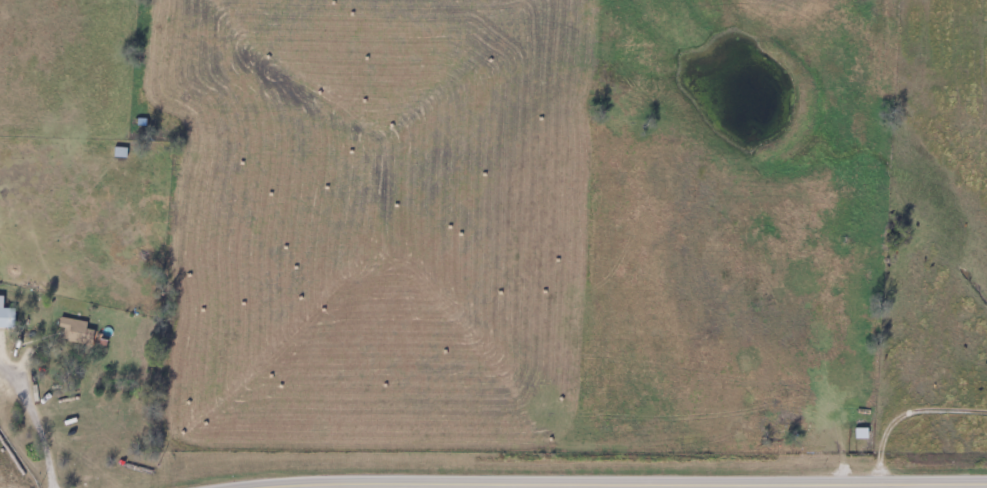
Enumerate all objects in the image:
building: (118, 151)
building: (5, 317)
building: (76, 332)
road: (34, 422)
road: (626, 484)

